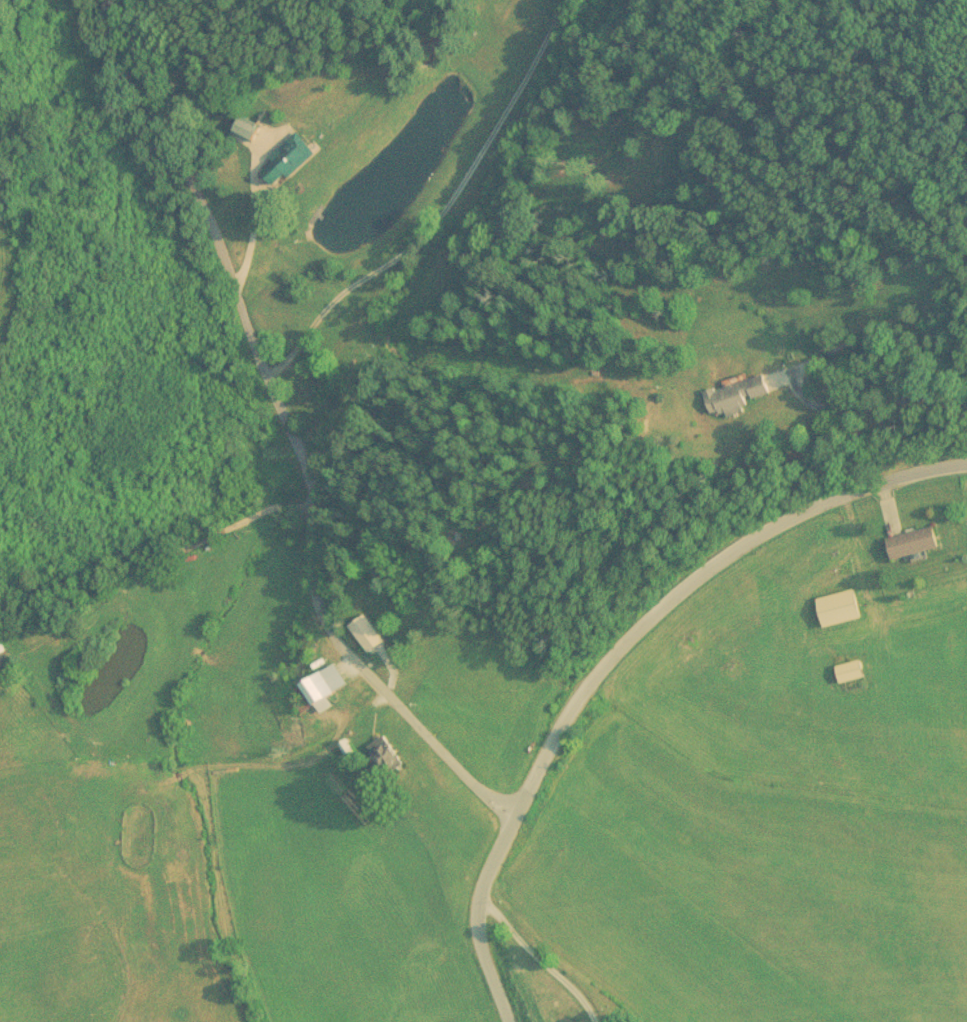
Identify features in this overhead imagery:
building: (285, 160)
road: (440, 212)
building: (346, 332)
building: (735, 396)
road: (871, 402)
road: (288, 430)
building: (911, 544)
building: (837, 610)
road: (612, 653)
building: (0, 654)
building: (848, 673)
building: (318, 691)
building: (381, 758)
road: (539, 957)

